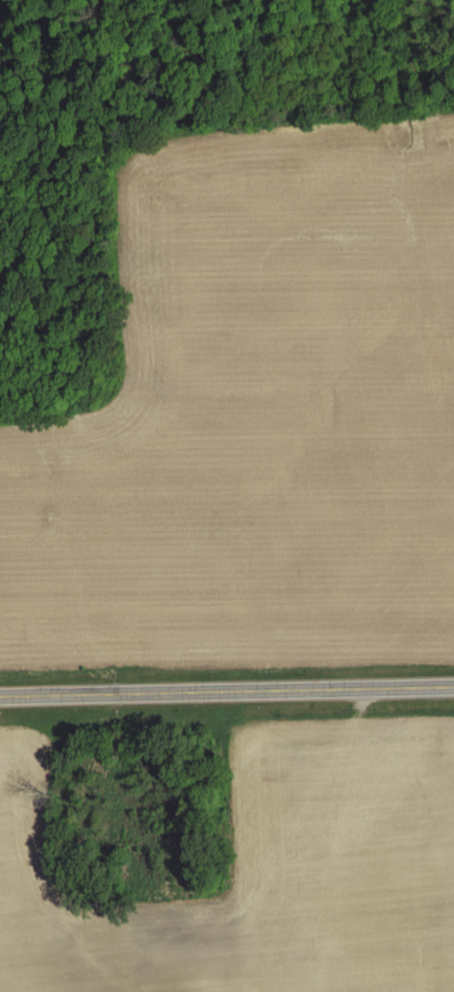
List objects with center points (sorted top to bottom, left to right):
road: (227, 695)

